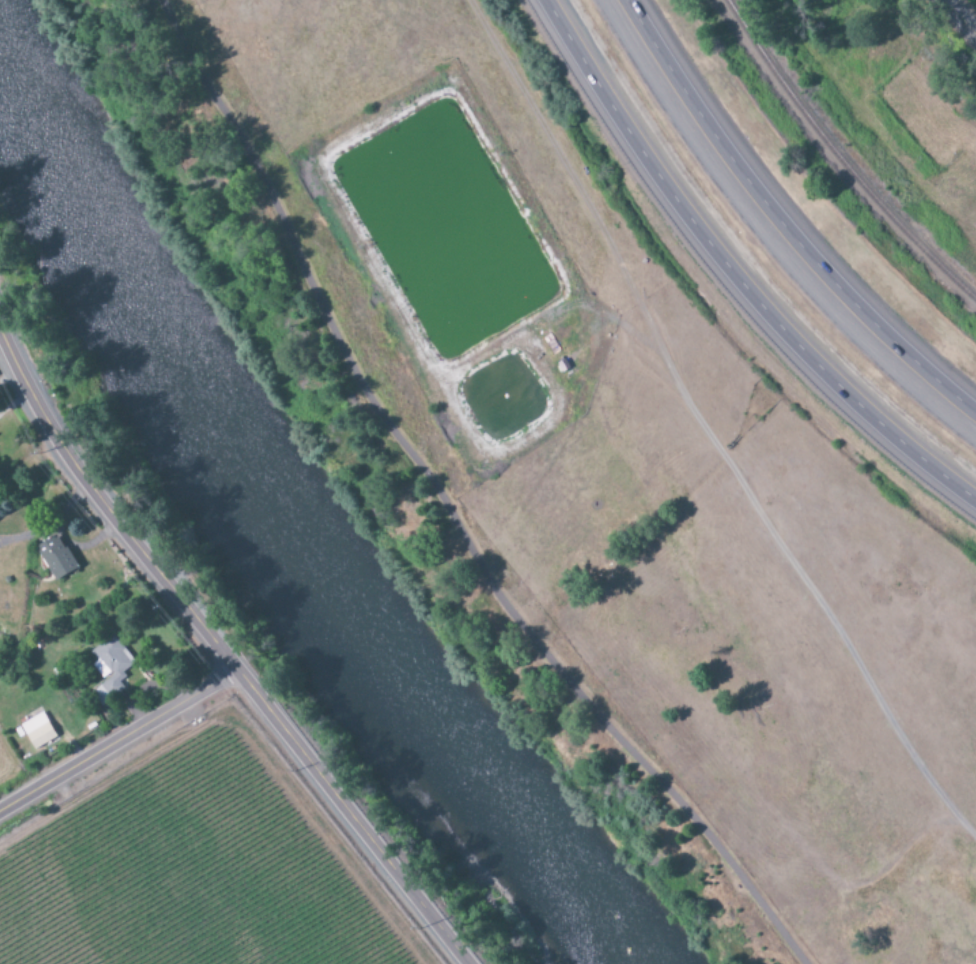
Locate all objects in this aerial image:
road: (960, 16)
railway: (838, 175)
road: (781, 223)
road: (733, 273)
river: (279, 503)
road: (446, 505)
building: (53, 557)
road: (201, 649)
building: (109, 668)
building: (36, 732)
road: (115, 752)

